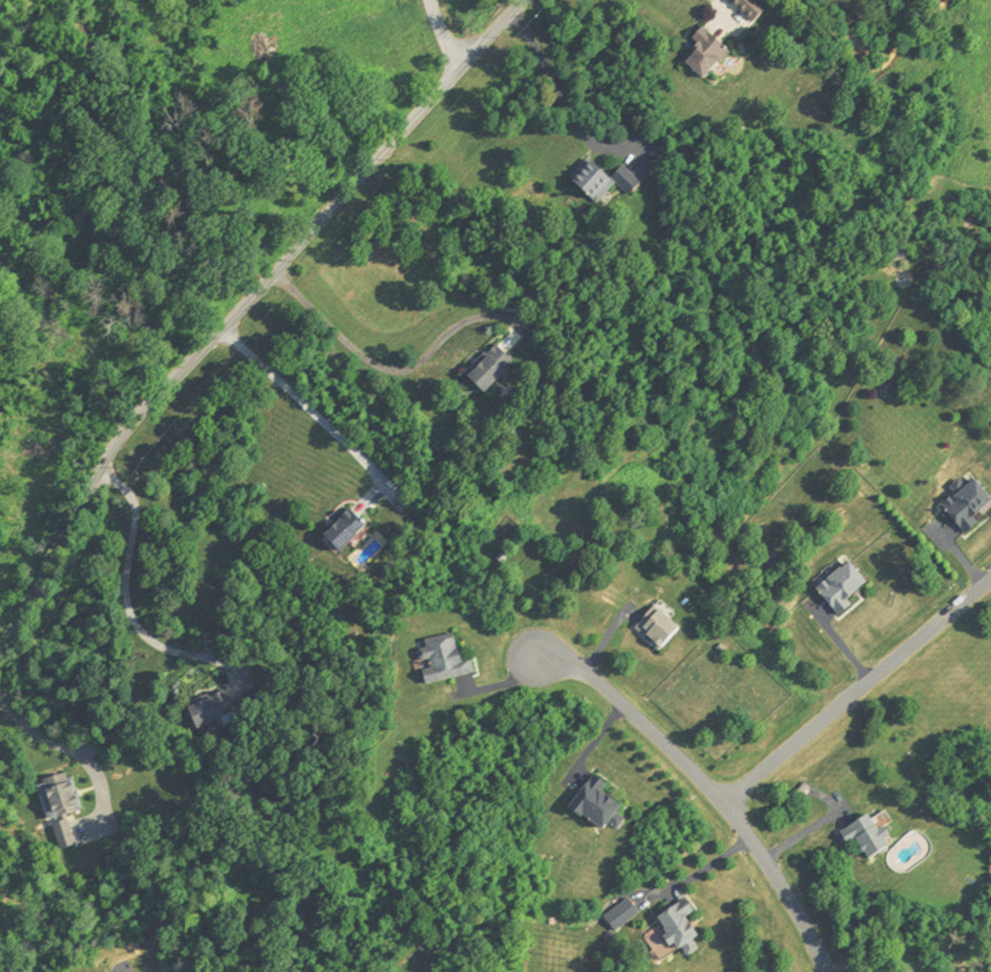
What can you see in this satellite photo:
building: (746, 9)
road: (437, 40)
building: (702, 56)
road: (560, 97)
building: (600, 184)
road: (236, 310)
road: (378, 367)
building: (486, 370)
road: (298, 398)
building: (966, 508)
building: (341, 532)
building: (839, 590)
road: (125, 600)
building: (654, 630)
building: (439, 662)
road: (856, 691)
building: (206, 713)
road: (62, 748)
road: (707, 788)
building: (56, 799)
building: (593, 809)
building: (60, 838)
building: (863, 840)
road: (701, 869)
building: (675, 931)

